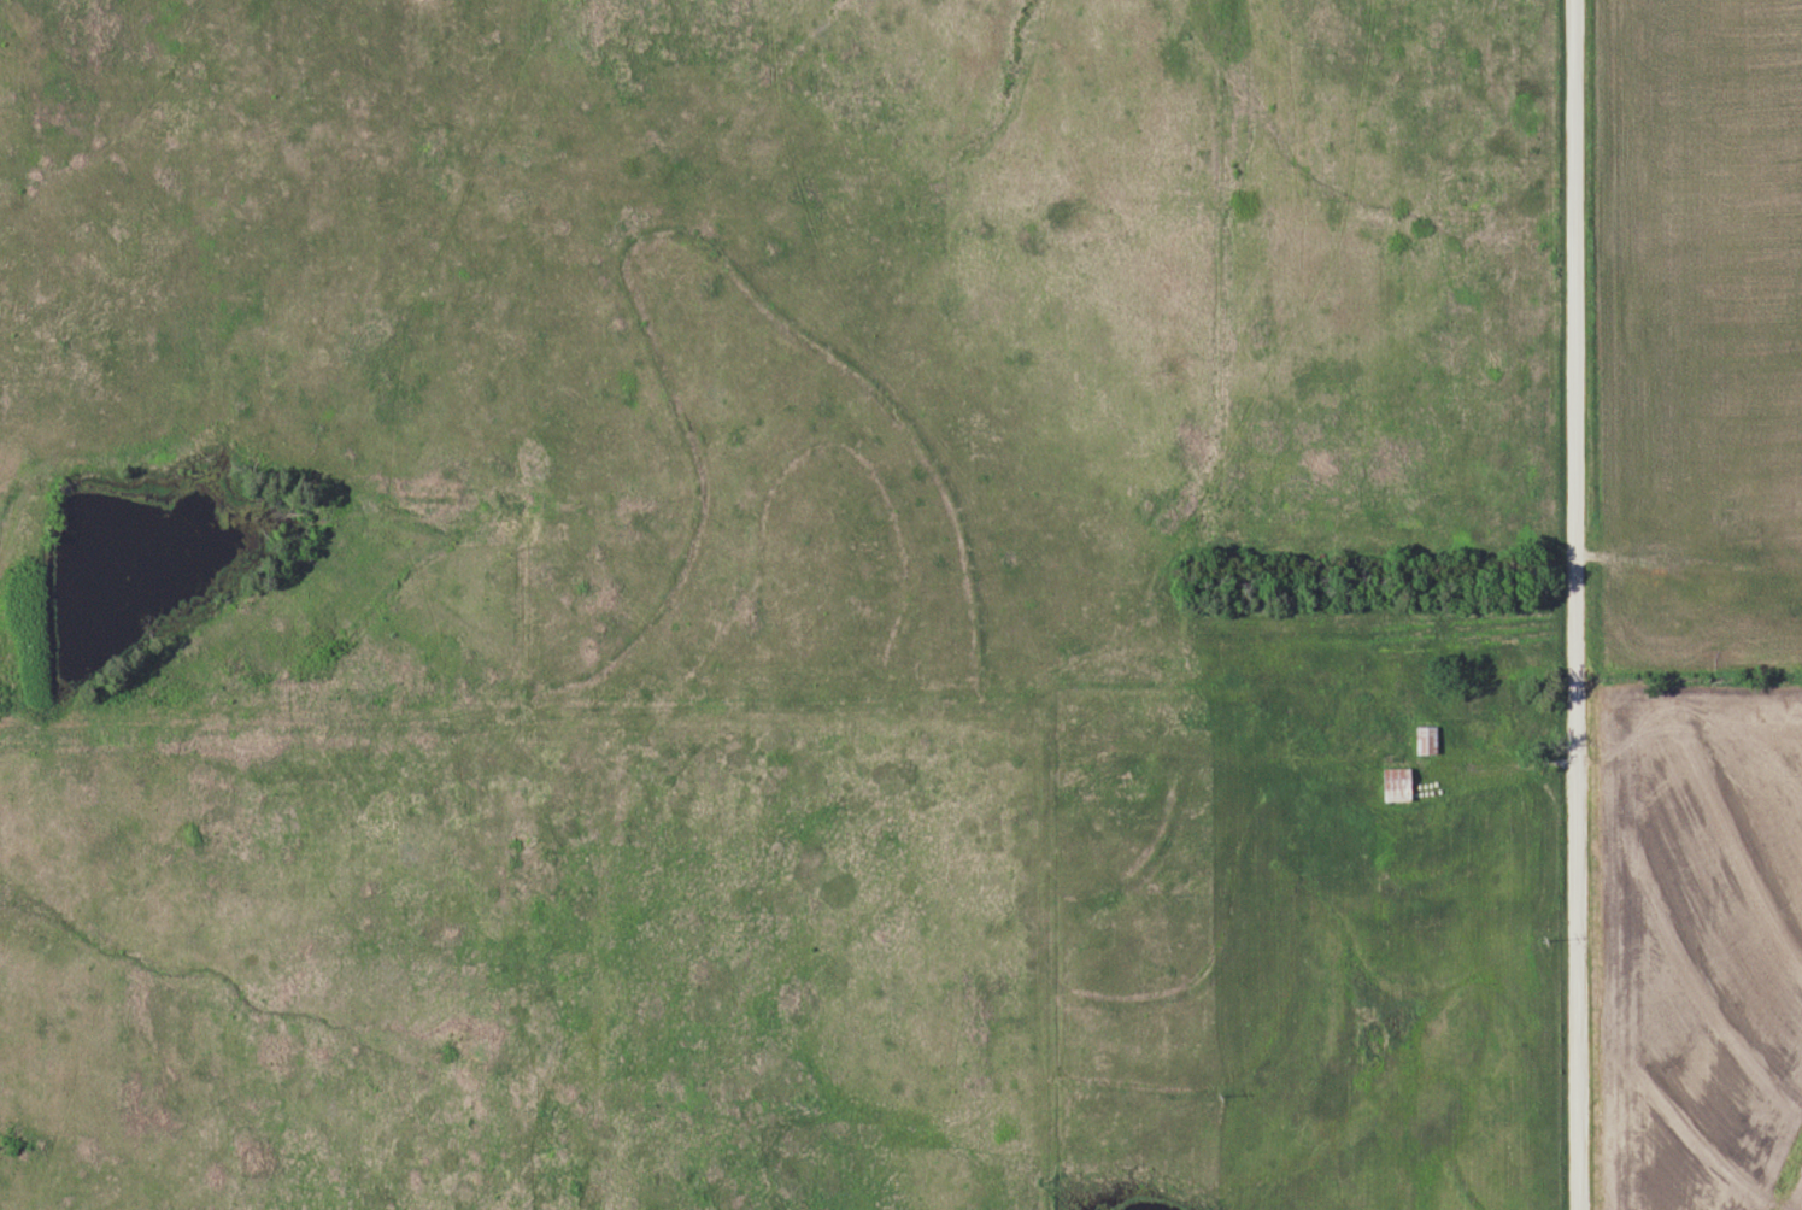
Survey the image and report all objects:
road: (1683, 564)
road: (1574, 604)
building: (1792, 609)
road: (1490, 683)
building: (1425, 739)
building: (1396, 782)

